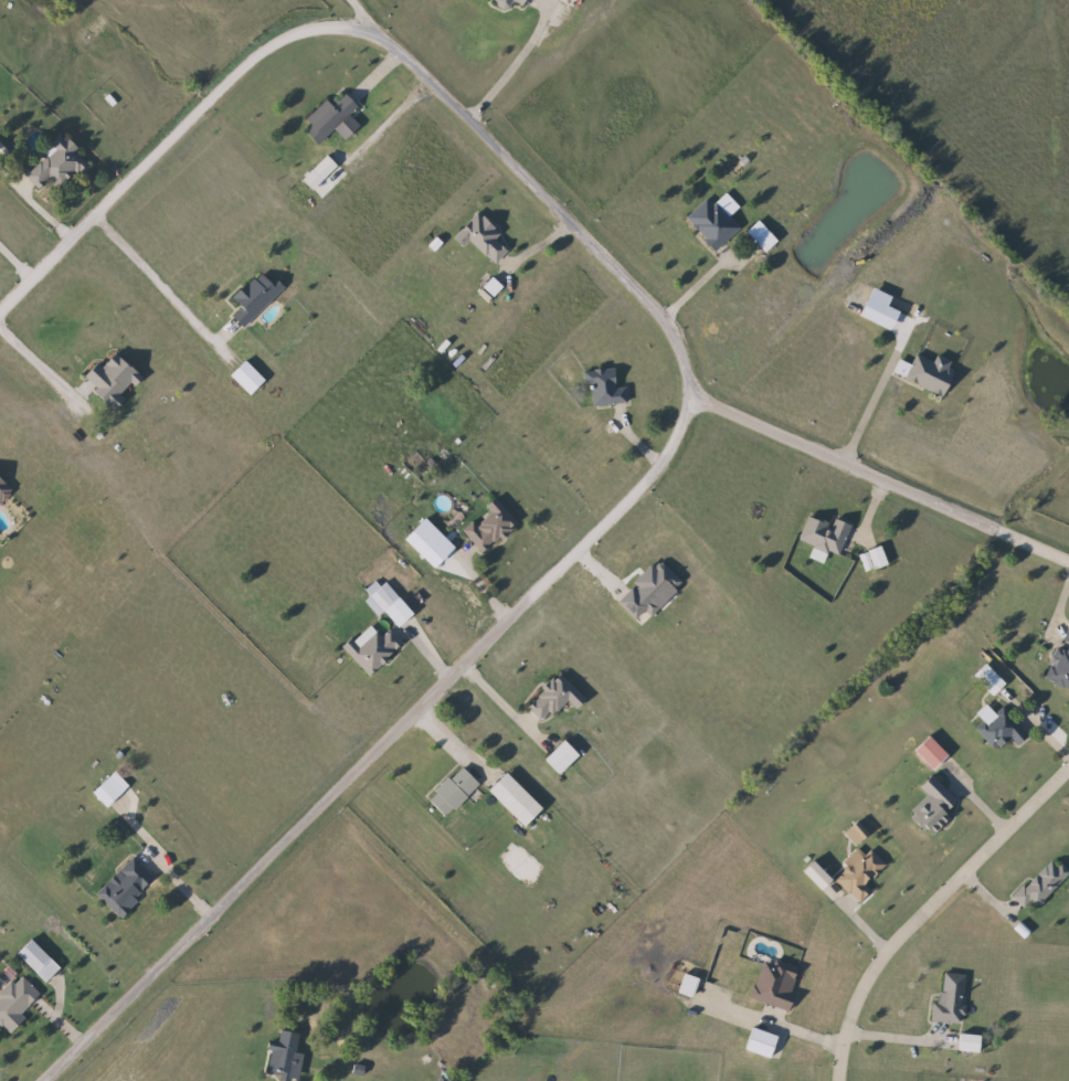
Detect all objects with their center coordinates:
building: (511, 2)
road: (359, 10)
road: (245, 66)
road: (511, 66)
building: (331, 117)
building: (60, 165)
road: (43, 197)
building: (715, 223)
building: (485, 236)
building: (769, 241)
road: (152, 284)
road: (698, 285)
building: (257, 297)
road: (38, 363)
building: (933, 372)
building: (251, 378)
building: (116, 379)
building: (607, 385)
road: (879, 394)
road: (882, 473)
building: (3, 492)
building: (491, 527)
building: (826, 537)
building: (875, 560)
building: (383, 598)
road: (486, 645)
building: (373, 648)
building: (1061, 664)
building: (991, 679)
building: (555, 697)
road: (504, 702)
building: (1001, 730)
building: (932, 752)
building: (563, 757)
building: (455, 791)
building: (108, 792)
building: (518, 799)
building: (934, 806)
building: (856, 834)
building: (862, 875)
building: (1042, 882)
building: (126, 886)
road: (929, 909)
building: (40, 960)
building: (776, 984)
building: (950, 999)
building: (15, 1003)
building: (971, 1042)
building: (287, 1053)

